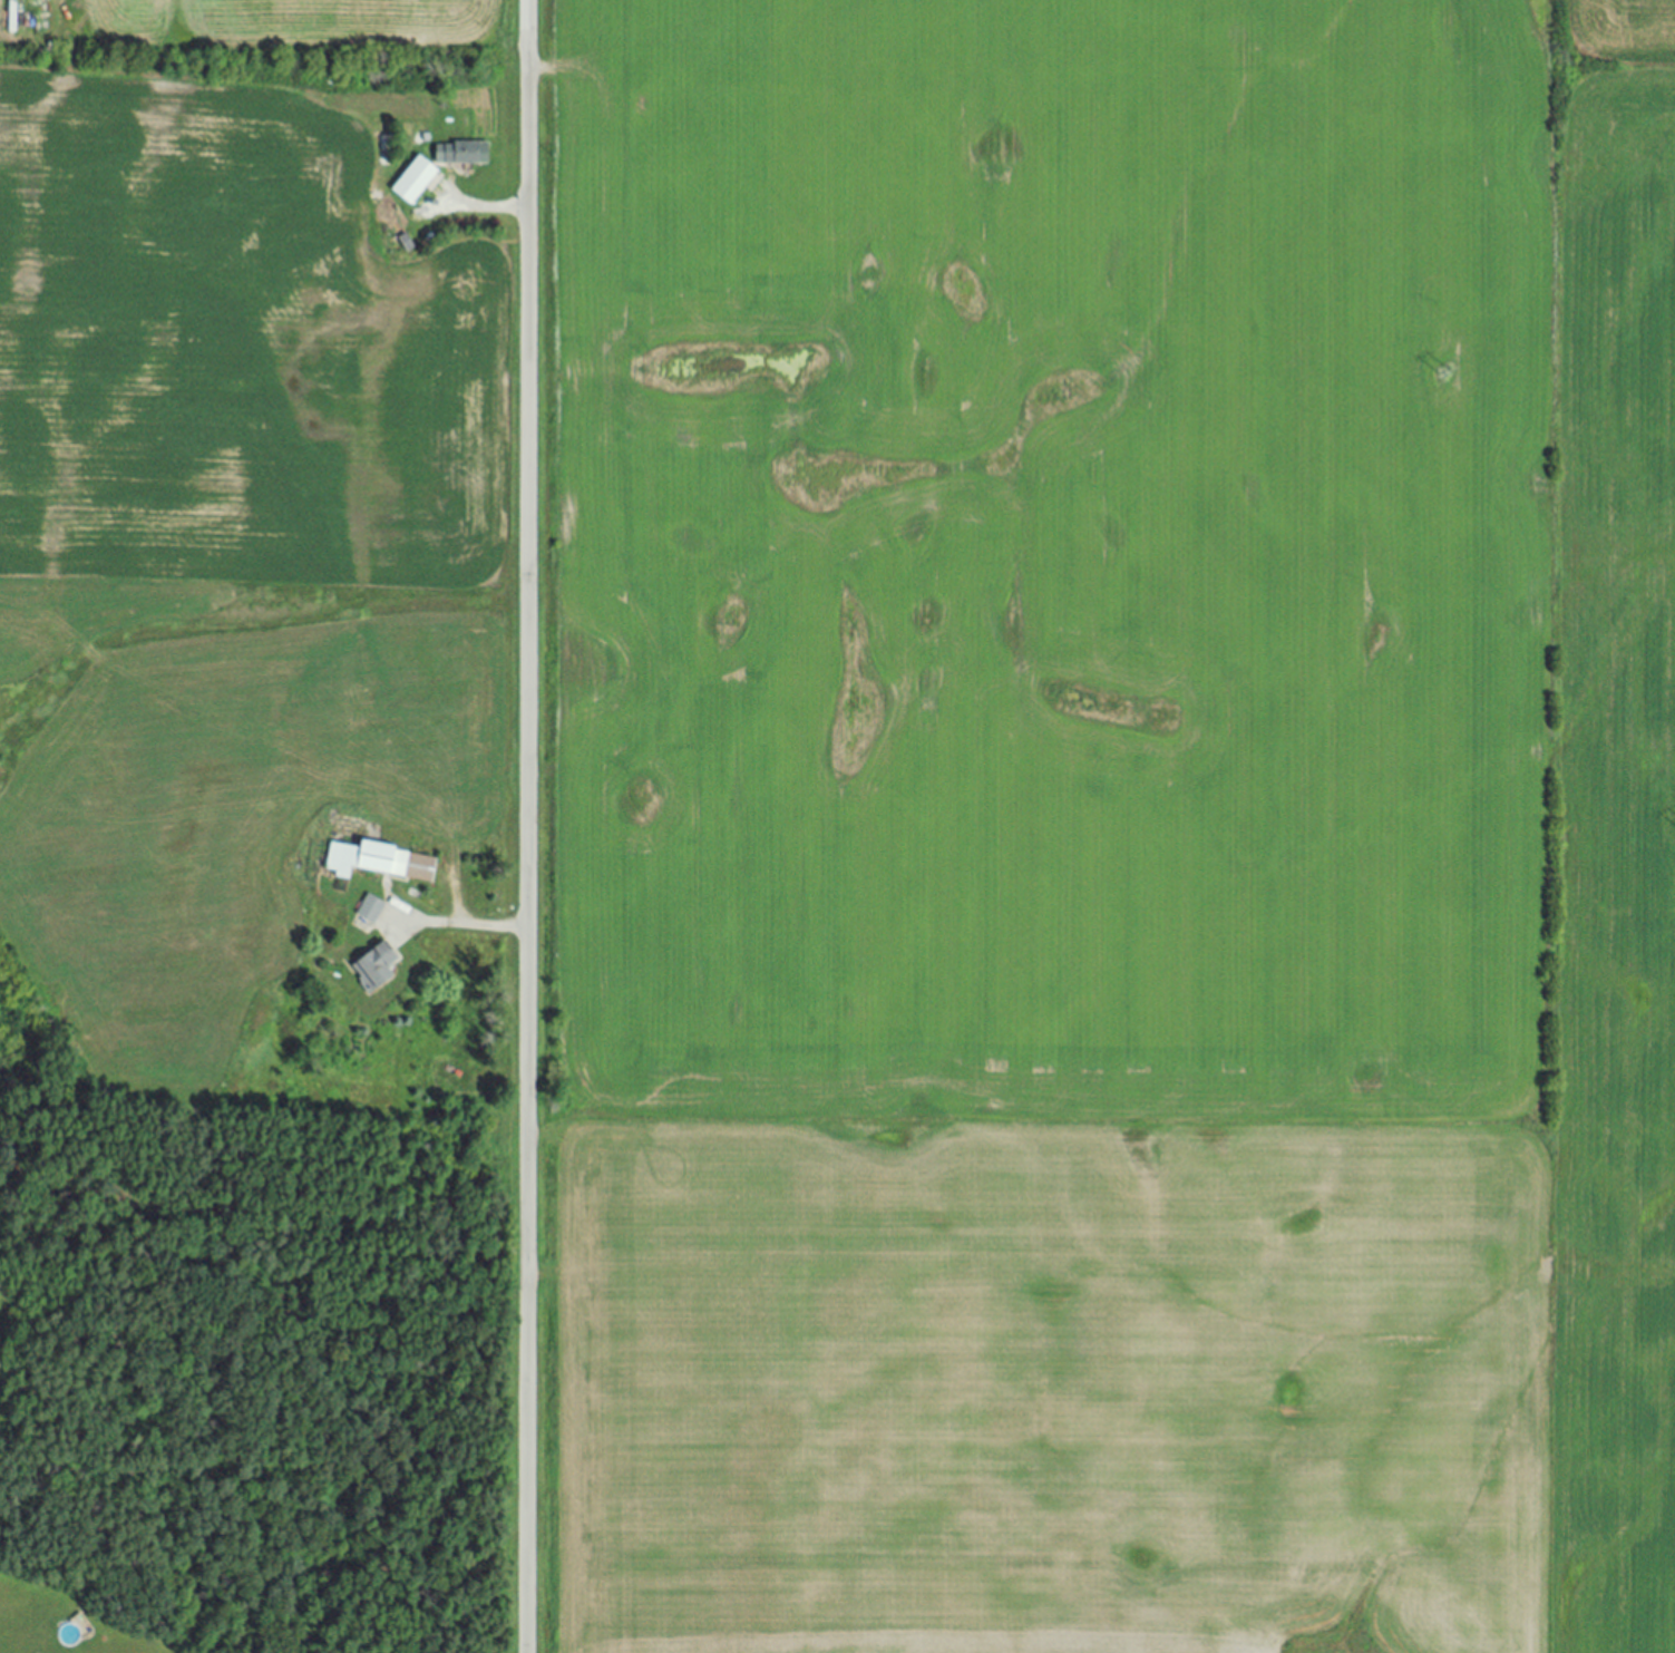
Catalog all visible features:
building: (458, 155)
building: (415, 182)
road: (490, 207)
power tower: (1442, 371)
road: (529, 826)
building: (380, 863)
building: (371, 910)
road: (471, 925)
building: (376, 969)

